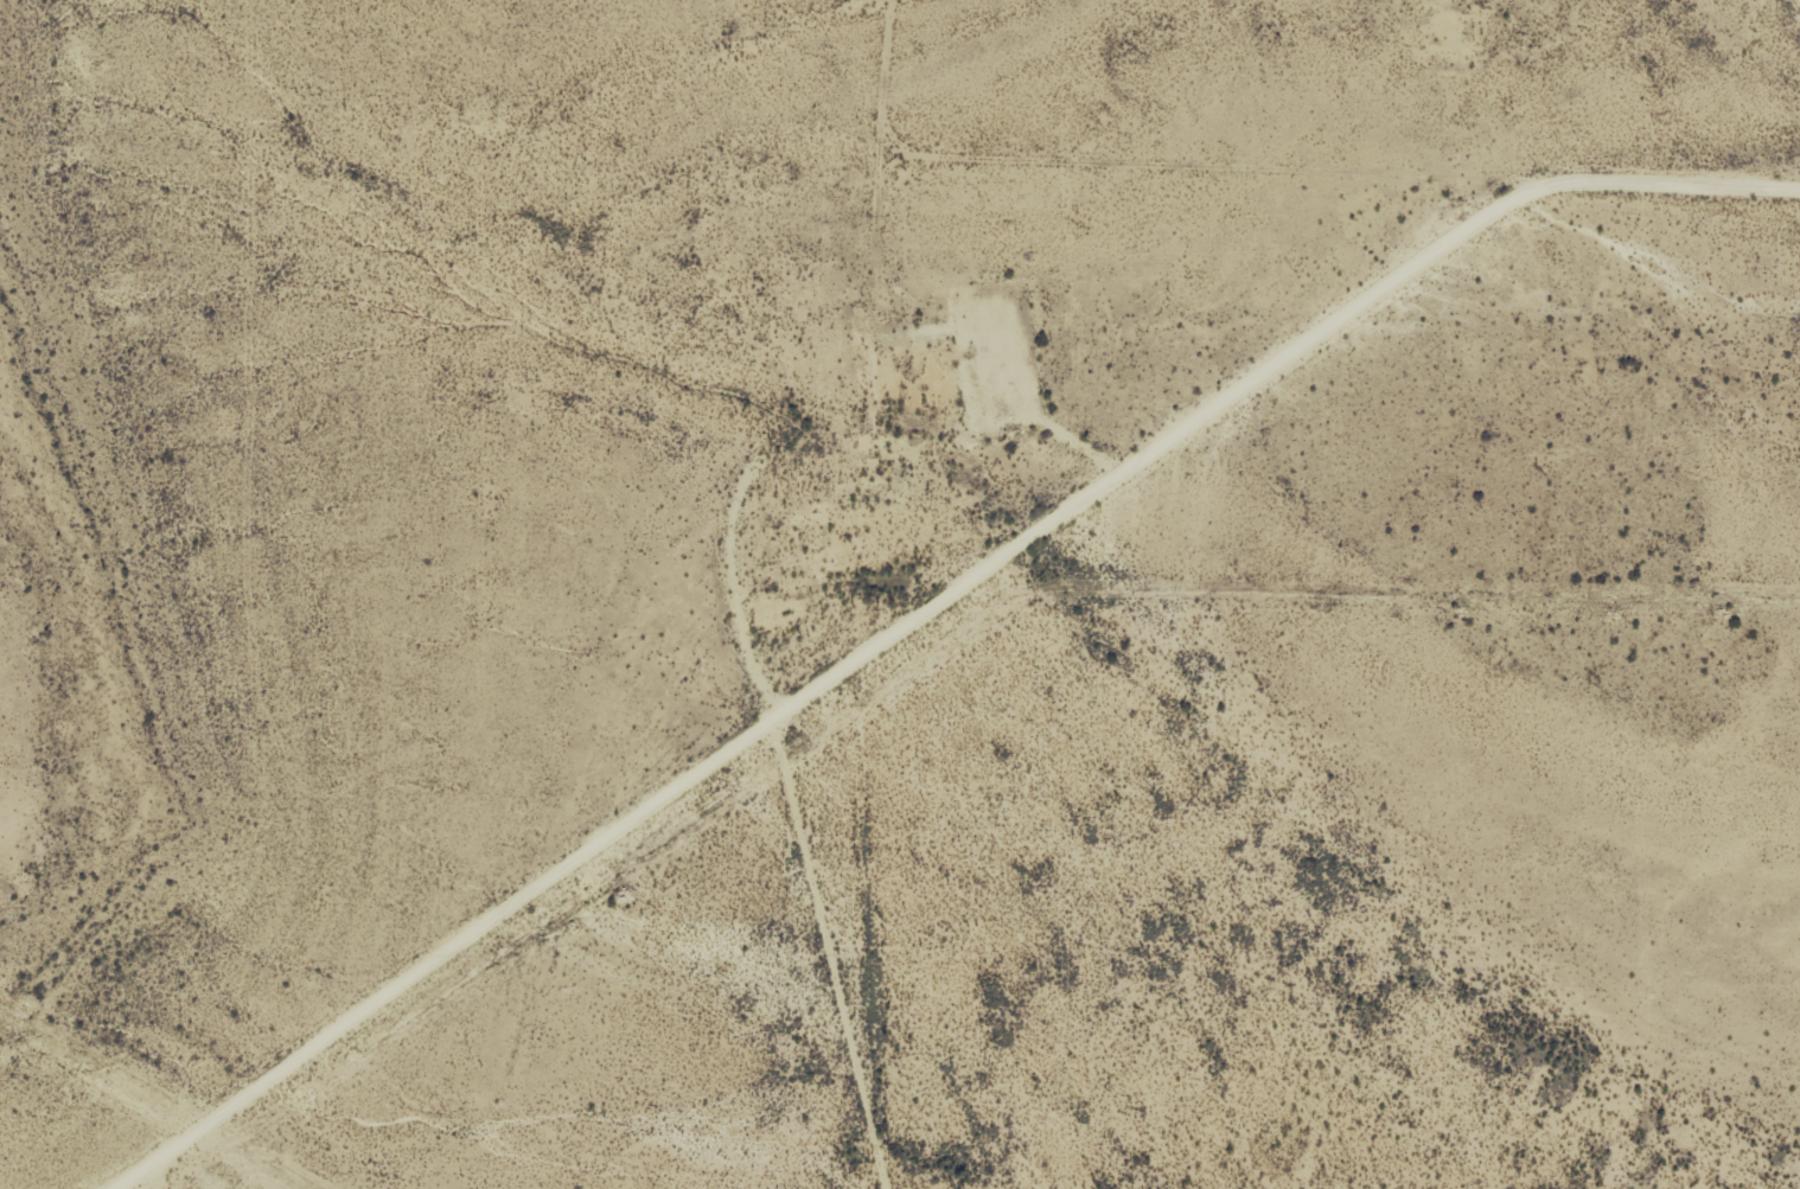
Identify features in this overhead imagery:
road: (1793, 8)
road: (925, 619)

